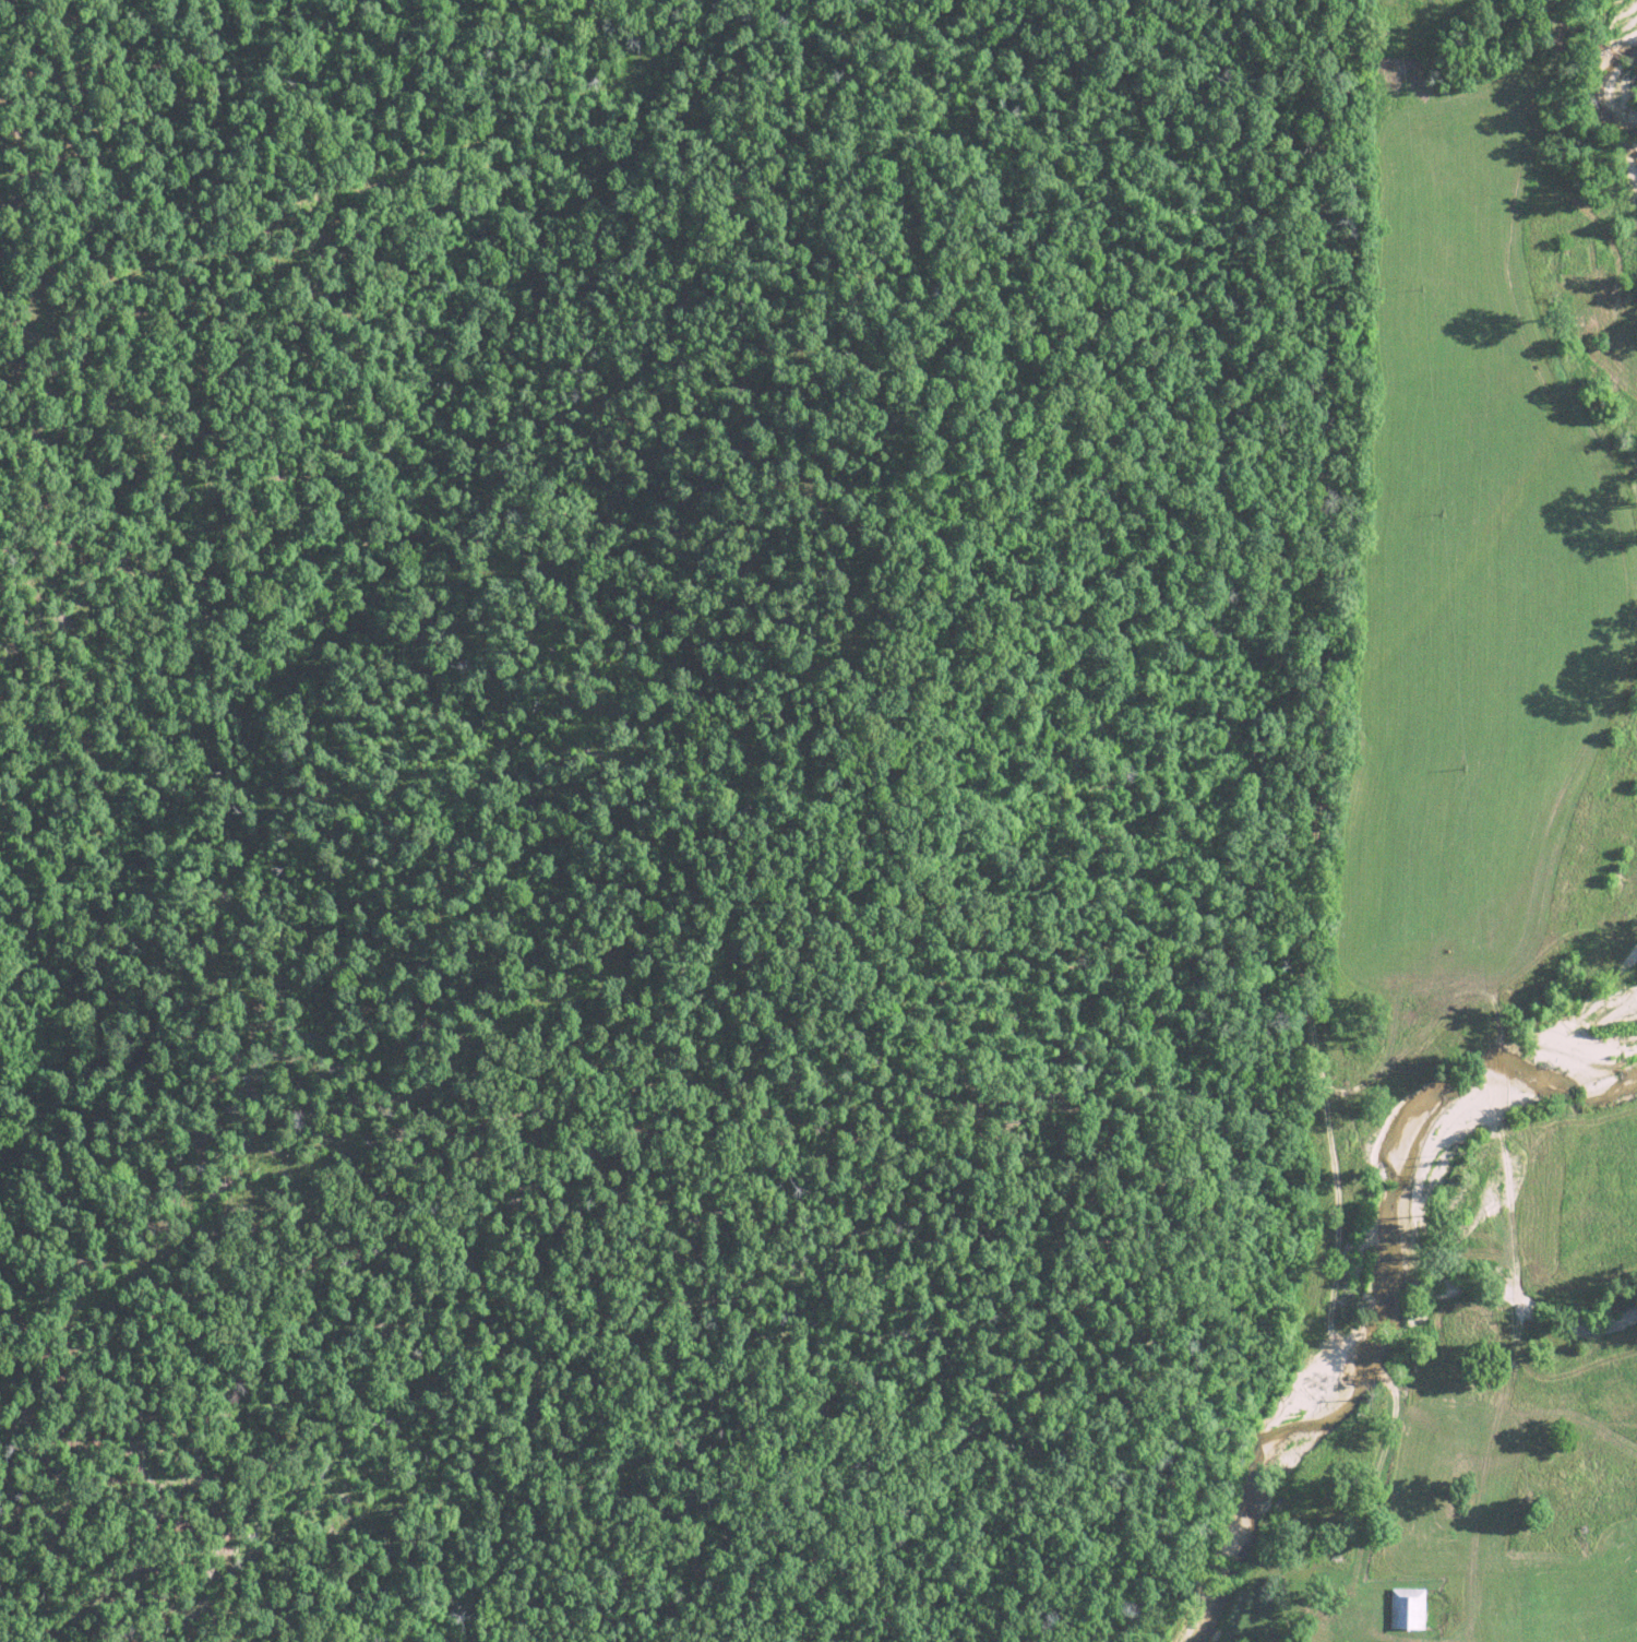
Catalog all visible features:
building: (1413, 1608)

